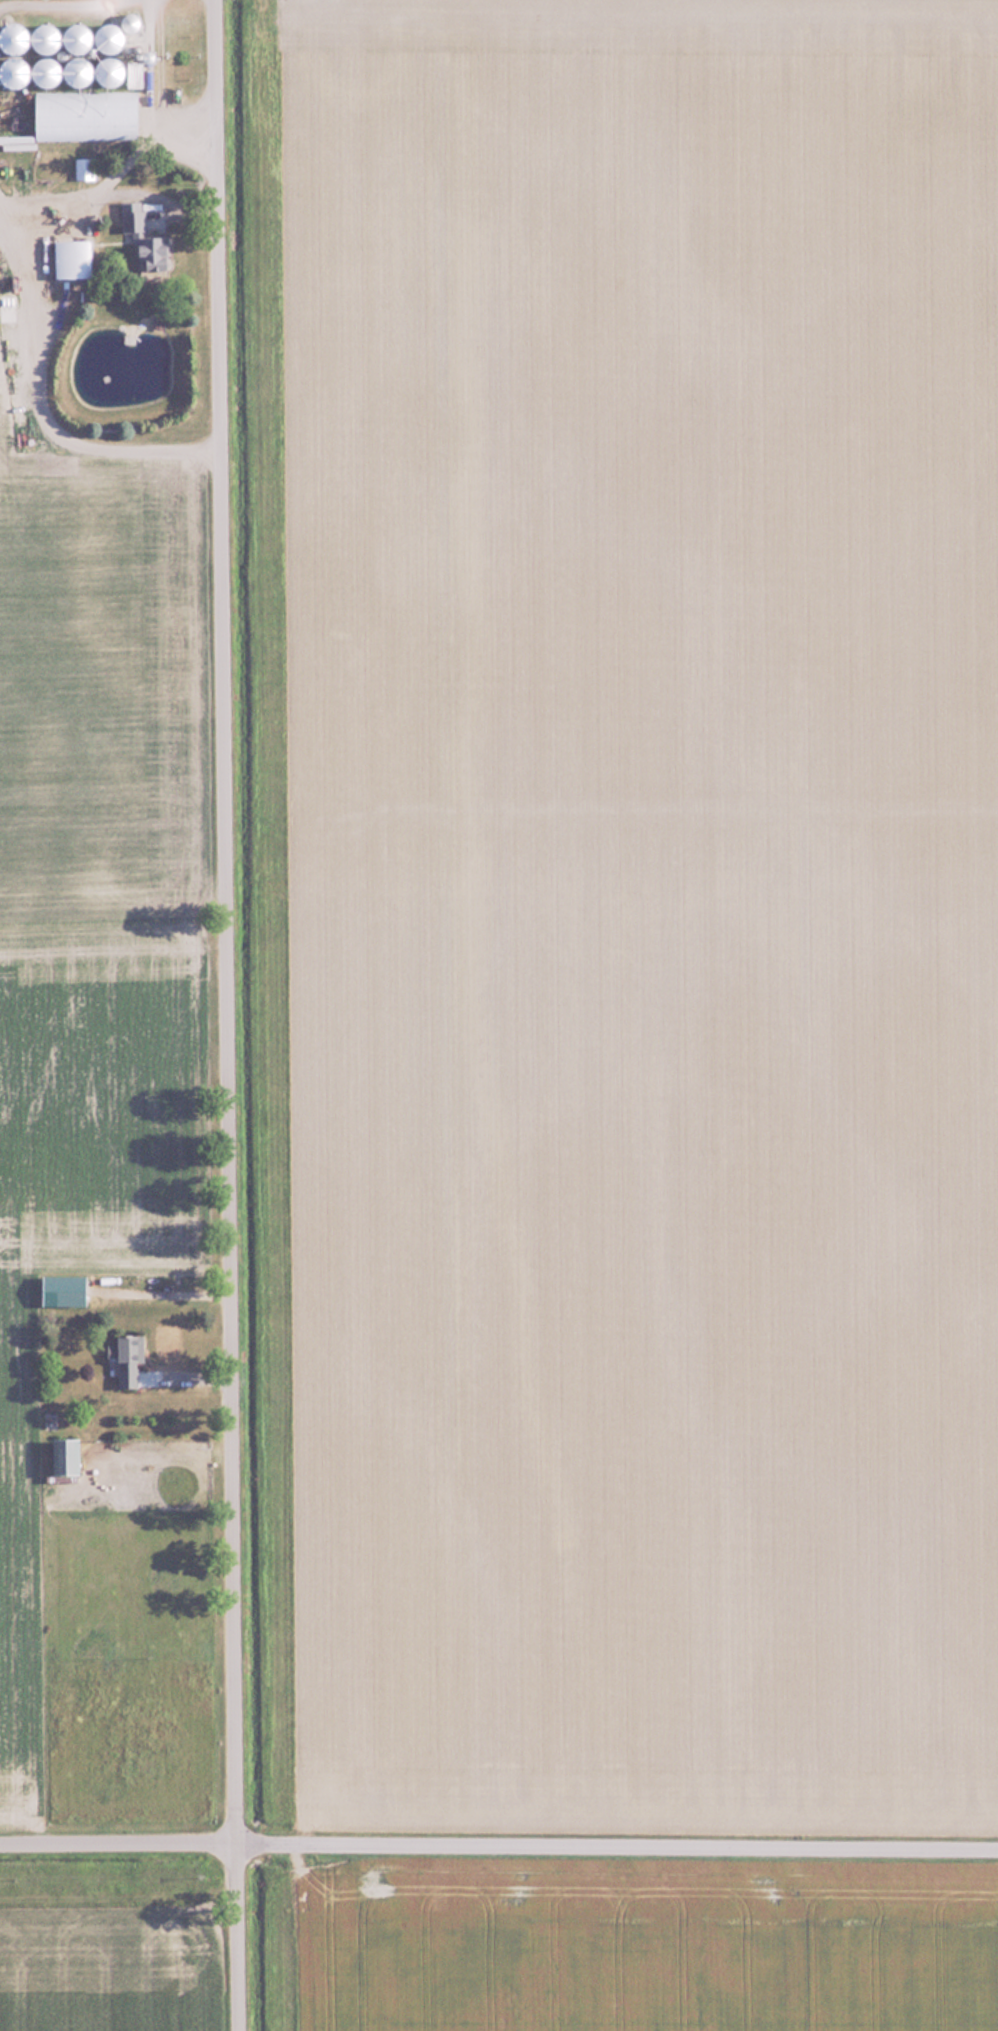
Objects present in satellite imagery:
building: (73, 55)
building: (87, 114)
building: (84, 168)
building: (145, 240)
building: (73, 259)
road: (229, 1015)
building: (65, 1289)
building: (130, 1358)
building: (68, 1455)
building: (786, 1819)
road: (498, 1851)

